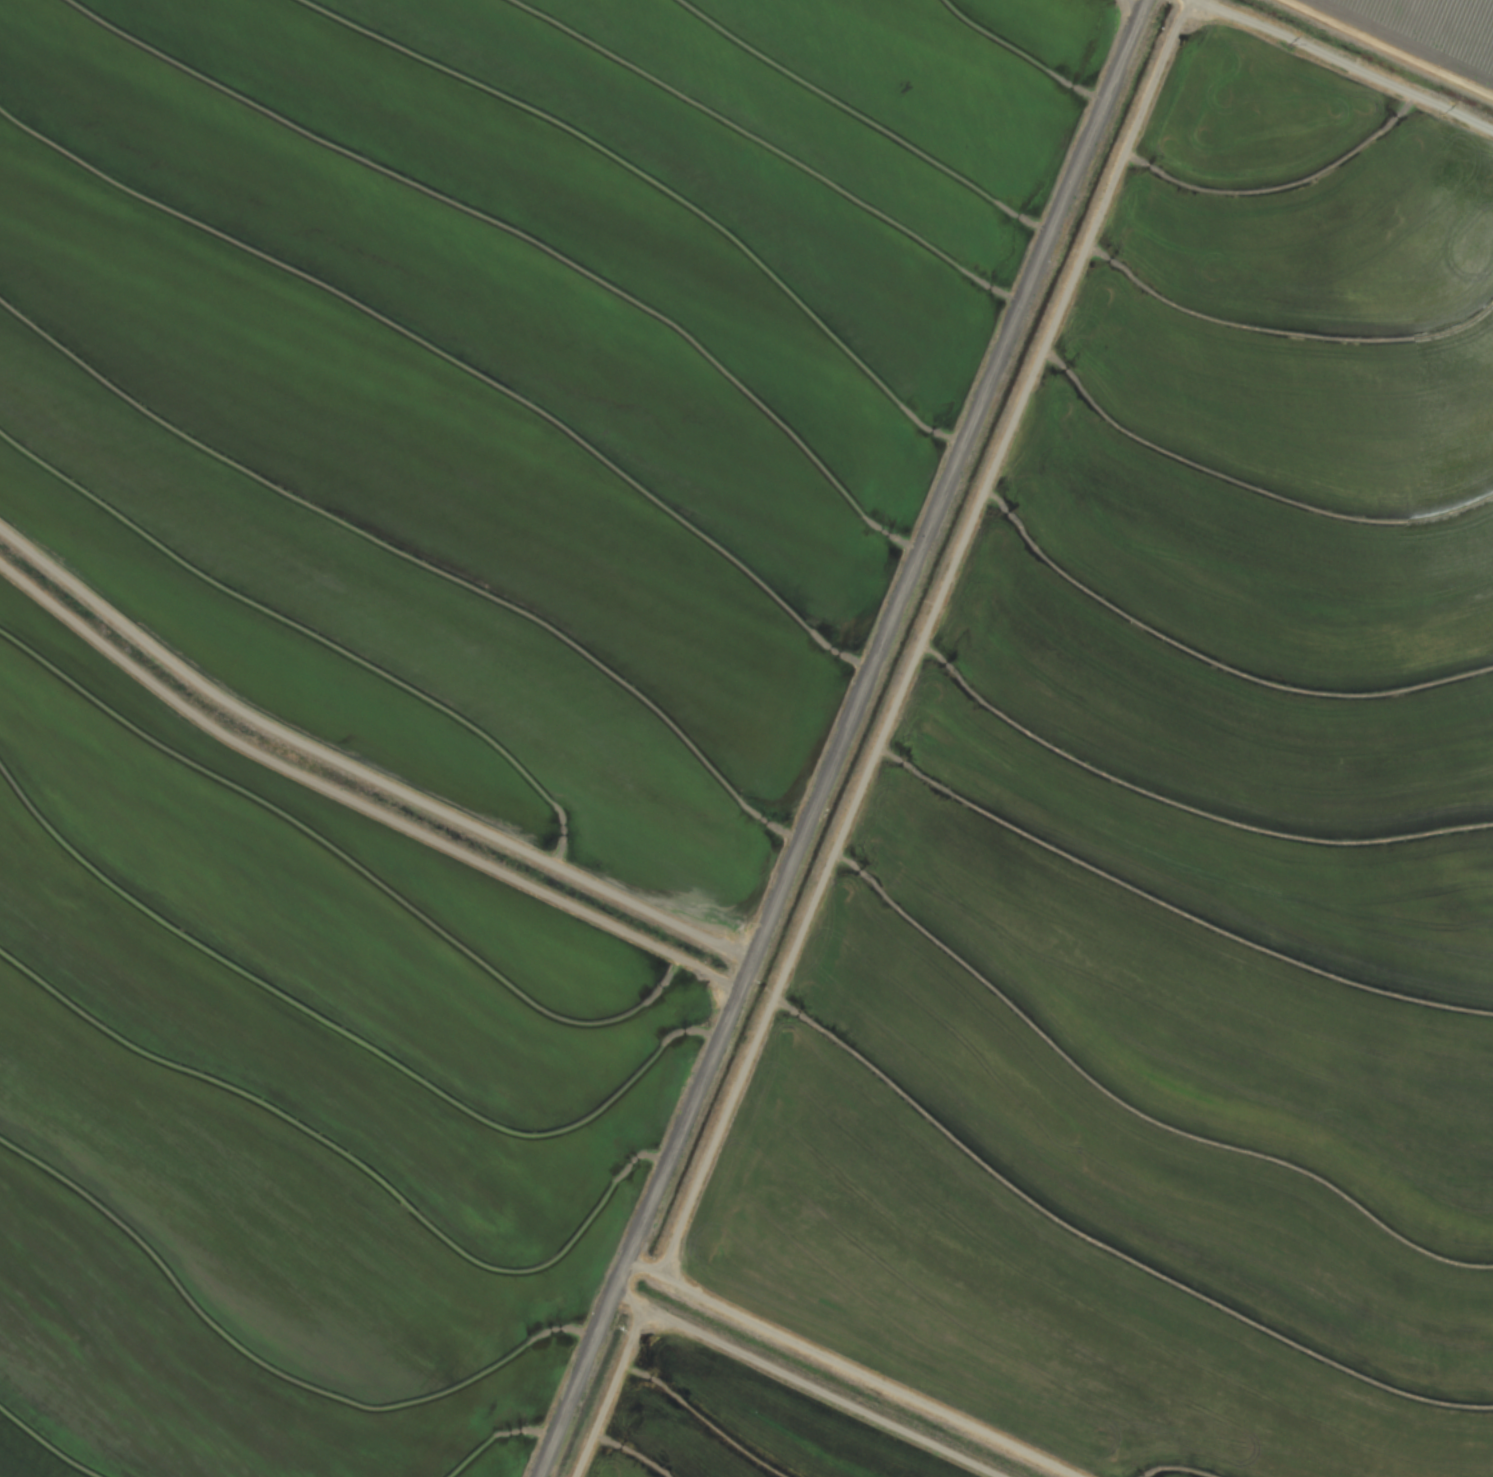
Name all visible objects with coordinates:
crop: (746, 738)
road: (848, 738)

